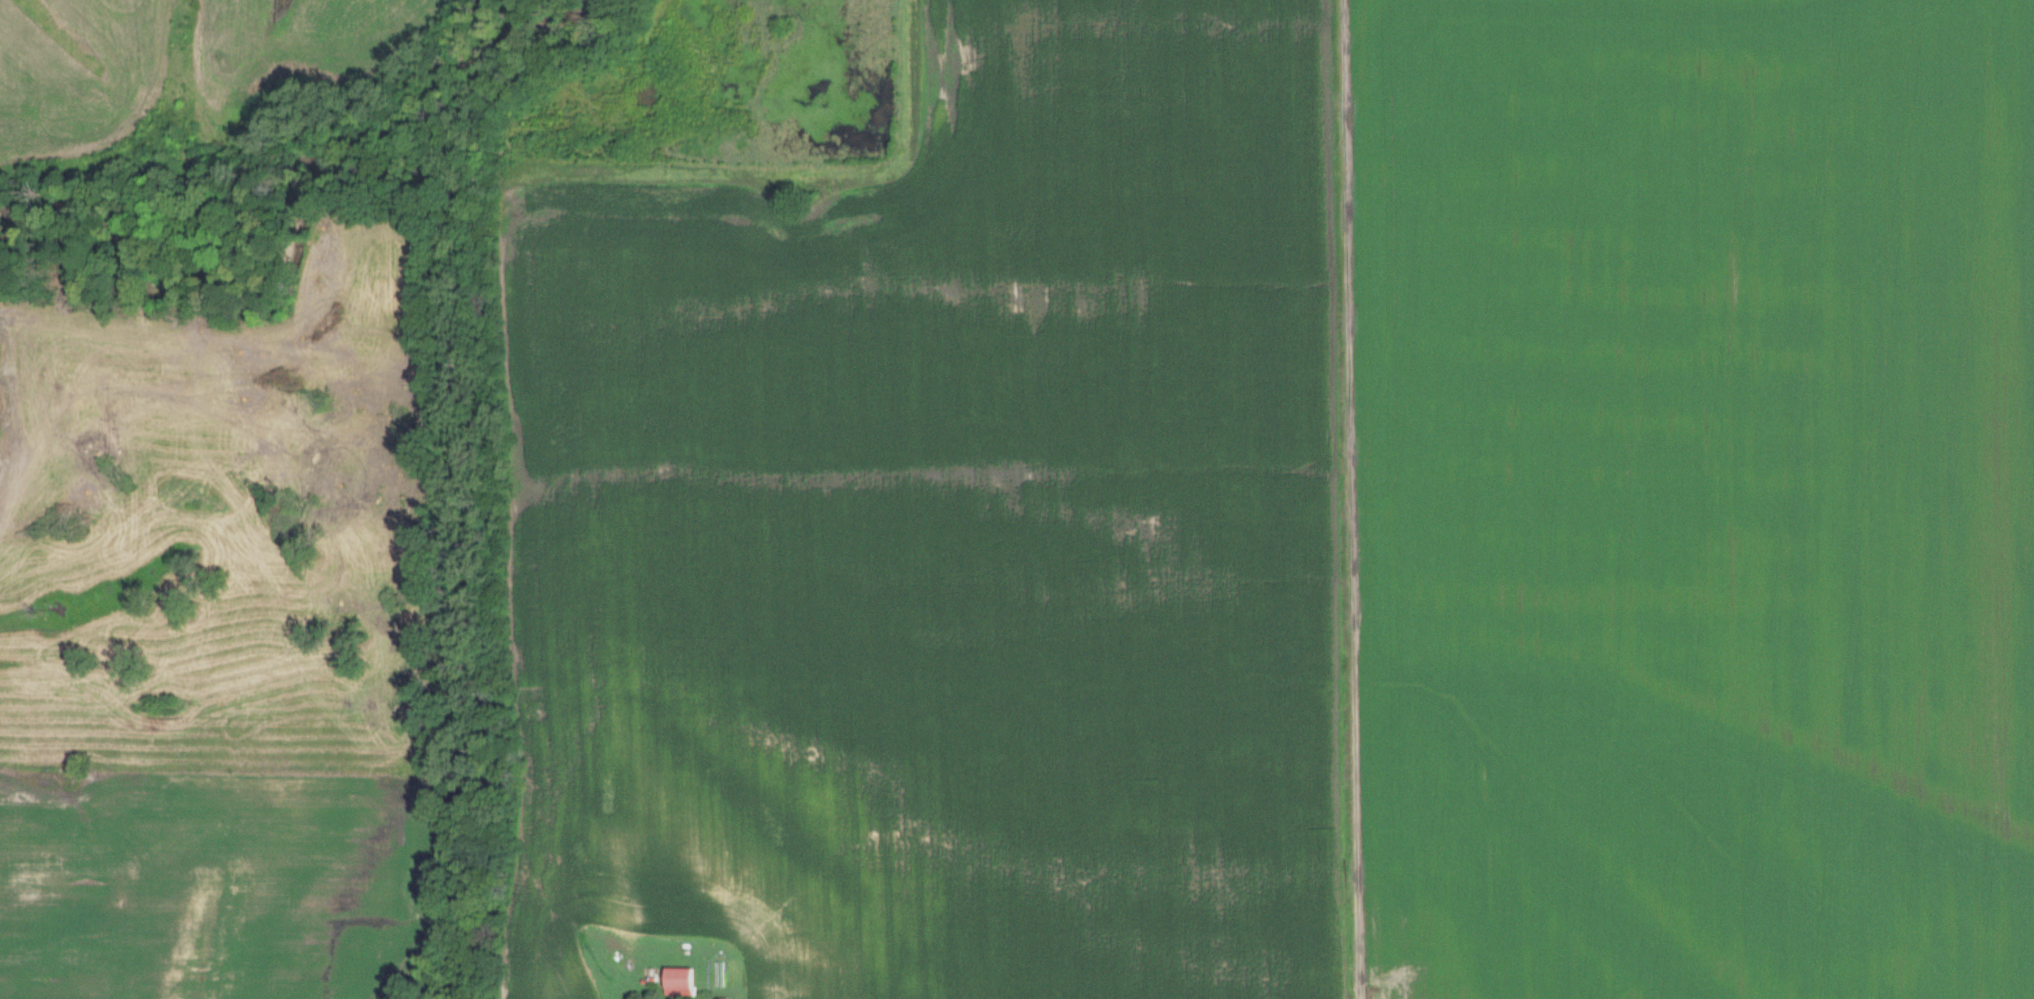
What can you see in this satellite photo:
building: (679, 981)

